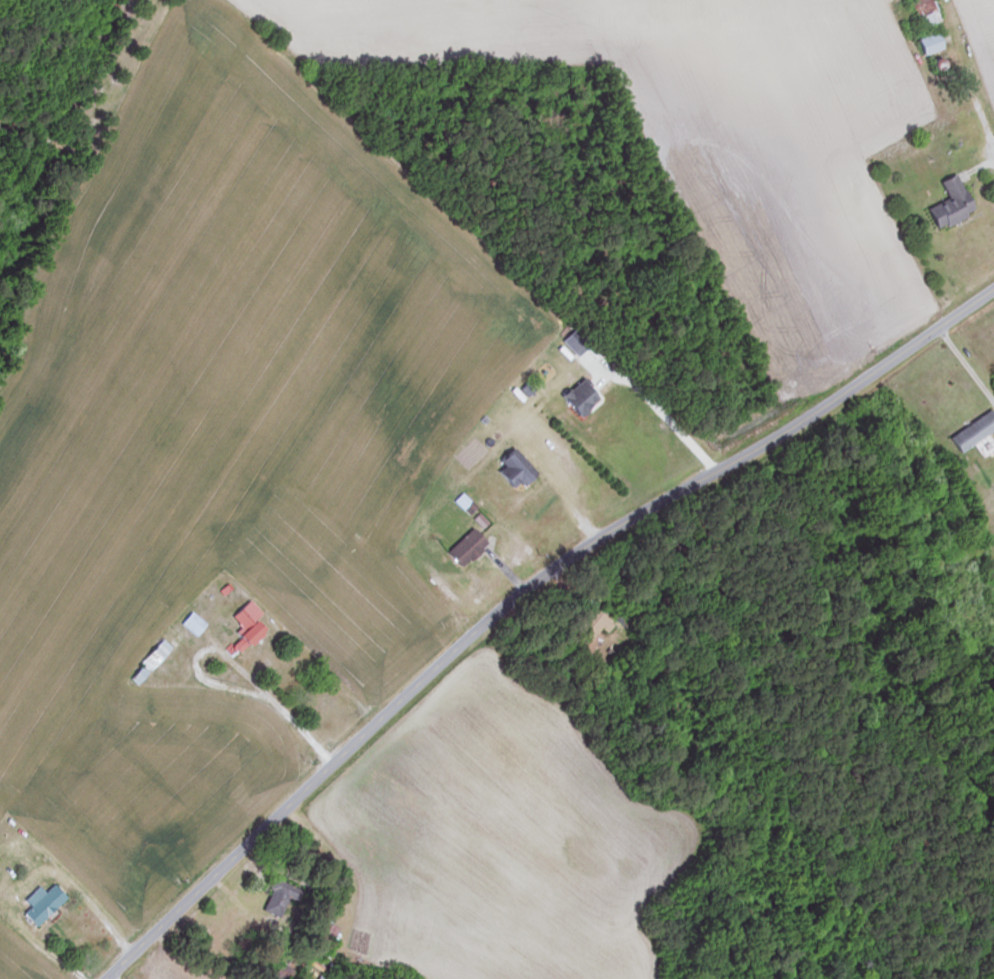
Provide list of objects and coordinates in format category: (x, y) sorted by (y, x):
building: (922, 13)
building: (926, 44)
building: (947, 203)
road: (911, 345)
road: (663, 413)
building: (970, 431)
building: (510, 468)
building: (463, 548)
building: (190, 623)
building: (243, 626)
building: (587, 626)
building: (152, 655)
road: (441, 660)
building: (278, 898)
building: (40, 904)
road: (112, 975)

